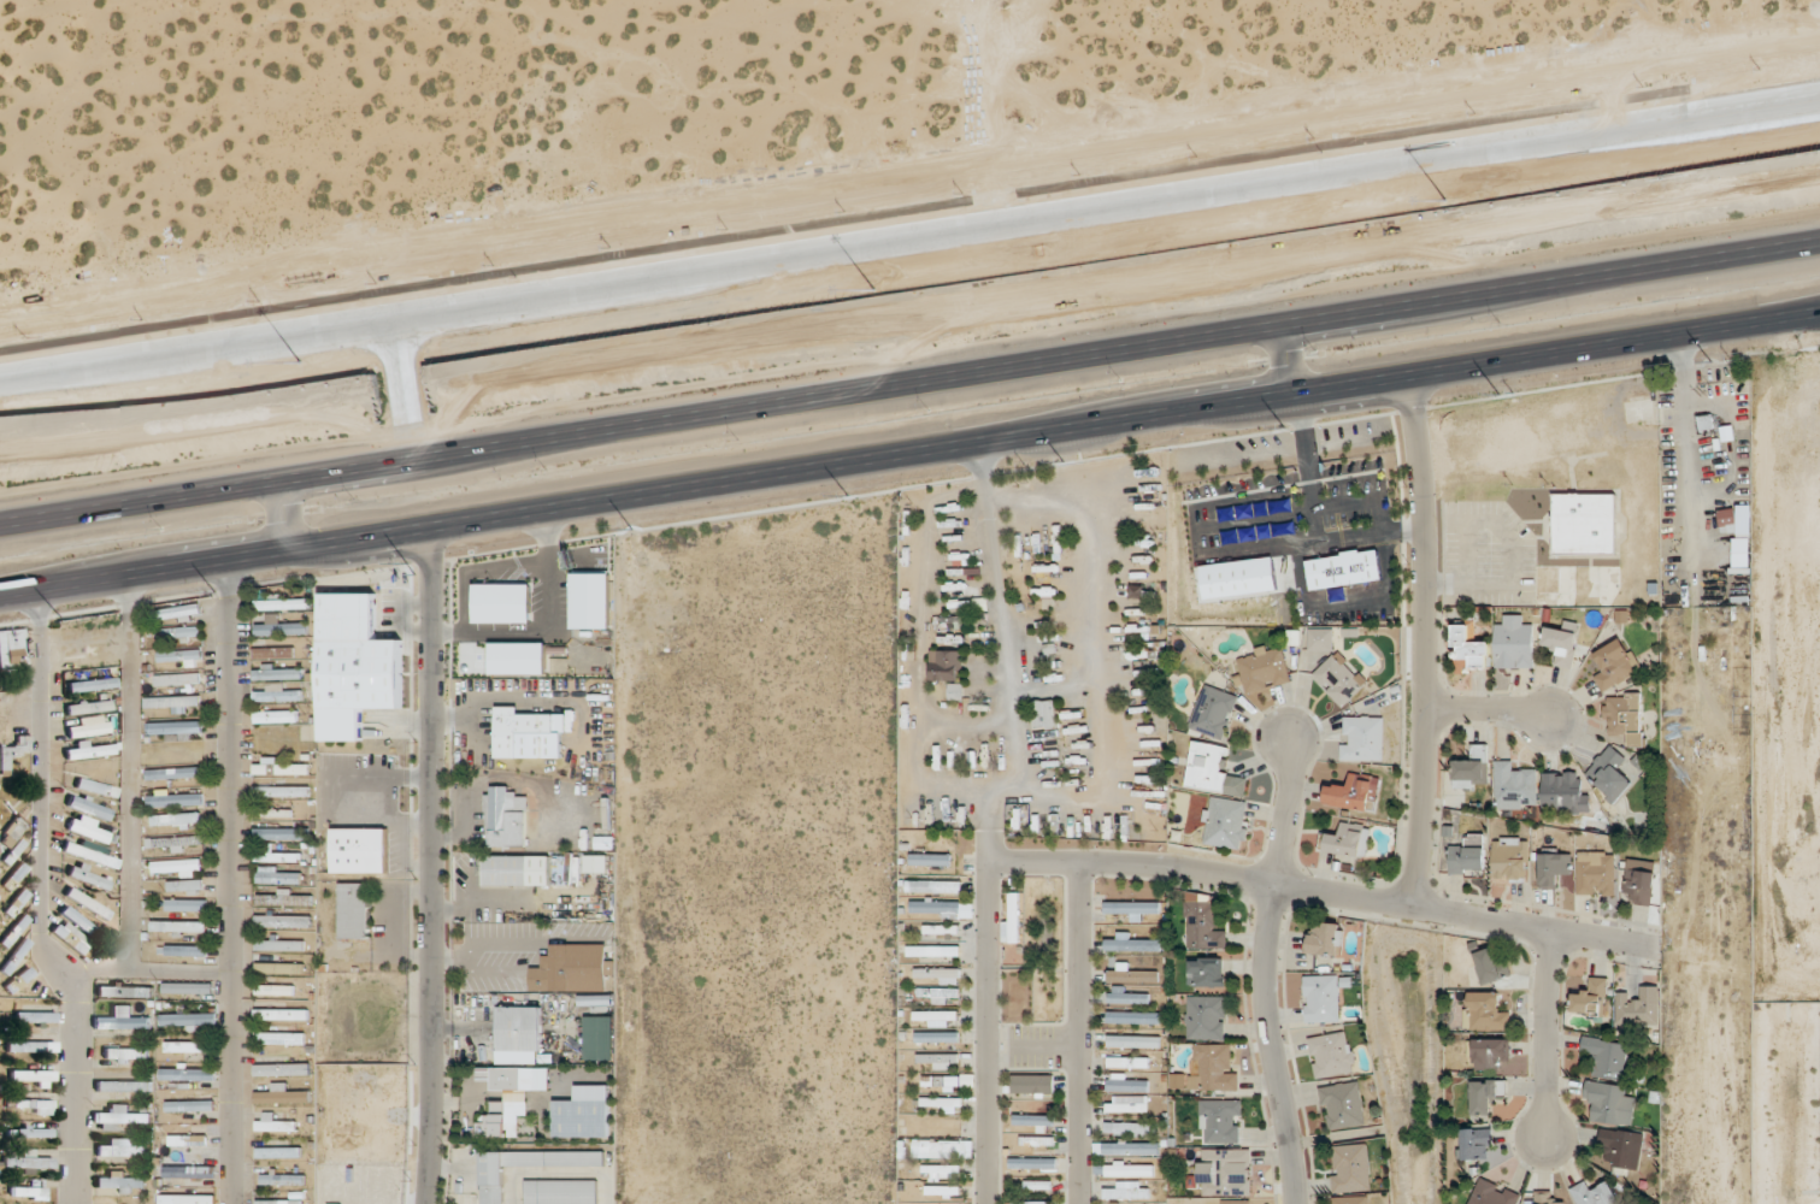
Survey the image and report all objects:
road: (909, 240)
road: (1136, 326)
road: (418, 438)
road: (909, 453)
road: (192, 472)
building: (1727, 518)
road: (1317, 519)
building: (1583, 524)
road: (1266, 547)
road: (1466, 551)
building: (1342, 568)
road: (1510, 571)
building: (178, 613)
building: (282, 627)
building: (182, 632)
building: (1319, 638)
road: (1425, 641)
building: (1514, 643)
building: (1469, 644)
building: (1561, 645)
building: (13, 650)
building: (276, 650)
building: (179, 655)
building: (1615, 663)
building: (353, 665)
building: (947, 665)
building: (1264, 669)
building: (279, 672)
building: (1339, 677)
building: (178, 679)
building: (92, 684)
building: (283, 694)
building: (173, 702)
building: (88, 706)
road: (1489, 709)
building: (1214, 713)
building: (277, 714)
building: (1044, 714)
building: (1625, 716)
building: (88, 726)
building: (176, 728)
building: (526, 733)
building: (1362, 737)
building: (90, 750)
building: (13, 752)
building: (279, 766)
building: (1472, 768)
road: (130, 771)
building: (1214, 771)
building: (1610, 773)
building: (1515, 786)
building: (96, 787)
building: (282, 791)
building: (1354, 792)
building: (1565, 792)
building: (176, 798)
building: (89, 807)
building: (277, 811)
building: (506, 818)
building: (176, 819)
building: (1226, 822)
road: (466, 825)
building: (90, 830)
building: (282, 833)
building: (1349, 839)
building: (173, 842)
building: (357, 850)
building: (92, 852)
building: (277, 855)
building: (1468, 855)
building: (1509, 857)
building: (930, 858)
road: (1080, 861)
building: (596, 863)
road: (431, 866)
building: (1554, 866)
building: (512, 870)
building: (1596, 872)
building: (14, 875)
building: (278, 875)
building: (89, 877)
road: (230, 881)
building: (1639, 883)
building: (185, 886)
building: (935, 886)
building: (284, 897)
building: (17, 902)
road: (40, 902)
building: (88, 903)
building: (187, 904)
road: (1418, 907)
building: (942, 908)
building: (1133, 908)
building: (352, 910)
building: (1013, 916)
building: (79, 921)
building: (277, 922)
building: (1202, 922)
building: (179, 926)
building: (942, 928)
building: (14, 929)
building: (71, 937)
building: (1325, 938)
road: (578, 942)
building: (1132, 943)
building: (279, 945)
building: (185, 950)
building: (933, 950)
road: (448, 955)
road: (540, 955)
building: (14, 957)
building: (1492, 966)
building: (577, 967)
road: (142, 968)
building: (279, 968)
building: (1206, 970)
building: (937, 974)
building: (1132, 974)
road: (1266, 974)
building: (18, 979)
building: (192, 988)
building: (124, 990)
building: (275, 990)
building: (940, 995)
building: (1127, 995)
building: (1323, 998)
building: (1591, 998)
building: (1639, 1007)
building: (1485, 1011)
building: (282, 1014)
road: (986, 1015)
building: (36, 1016)
building: (1133, 1016)
building: (936, 1017)
building: (1206, 1017)
building: (122, 1019)
building: (188, 1019)
building: (520, 1028)
road: (1080, 1032)
road: (1548, 1032)
building: (937, 1037)
building: (281, 1038)
building: (1131, 1040)
building: (31, 1046)
building: (188, 1046)
road: (1046, 1046)
building: (1489, 1052)
building: (126, 1053)
building: (1332, 1053)
building: (1607, 1057)
building: (938, 1061)
building: (1129, 1062)
building: (1213, 1067)
building: (282, 1069)
building: (188, 1073)
building: (33, 1076)
building: (948, 1080)
building: (1127, 1082)
building: (1033, 1084)
building: (124, 1086)
building: (282, 1094)
building: (1488, 1096)
building: (507, 1099)
building: (942, 1103)
building: (1127, 1103)
building: (1609, 1103)
building: (1343, 1104)
building: (35, 1105)
building: (193, 1105)
building: (582, 1117)
building: (1035, 1120)
building: (1221, 1120)
building: (942, 1123)
building: (273, 1125)
building: (1131, 1128)
building: (35, 1132)
building: (189, 1140)
building: (1037, 1141)
building: (1476, 1144)
building: (120, 1146)
road: (543, 1146)
building: (942, 1146)
building: (1131, 1147)
building: (1621, 1147)
building: (278, 1152)
building: (29, 1162)
building: (1033, 1163)
building: (1350, 1167)
road: (453, 1169)
building: (1124, 1169)
road: (564, 1170)
building: (941, 1170)
building: (1225, 1170)
building: (189, 1171)
building: (282, 1179)
building: (120, 1180)
building: (1038, 1184)
building: (493, 1185)
building: (943, 1190)
building: (1127, 1190)
building: (31, 1191)
building: (561, 1191)
building: (1492, 1193)
building: (1595, 1193)
building: (1547, 1198)
building: (1351, 1199)
building: (283, 1202)
building: (1032, 1202)
building: (1237, 1202)

